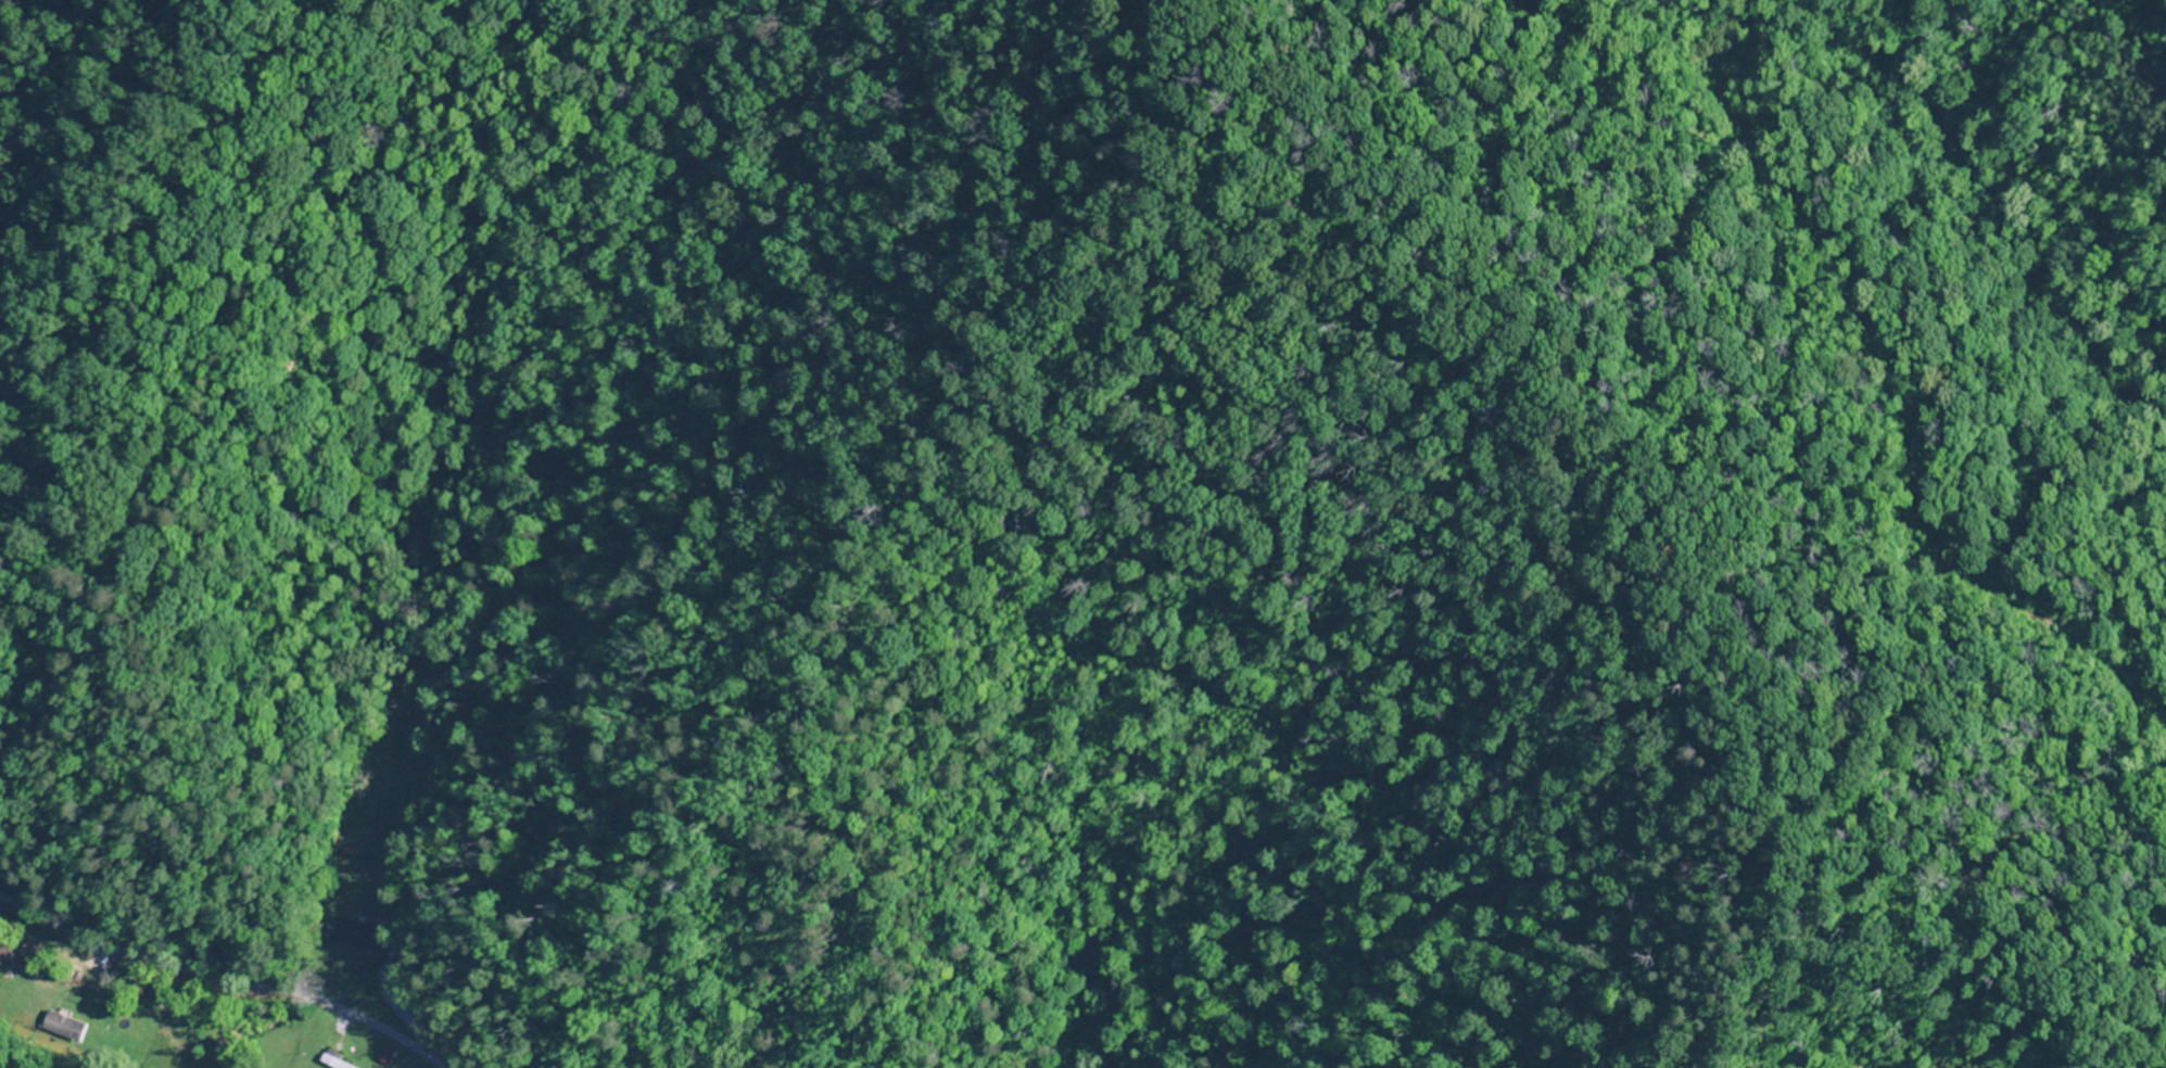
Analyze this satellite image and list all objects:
building: (360, 936)
road: (218, 984)
road: (223, 1027)
building: (340, 1059)

